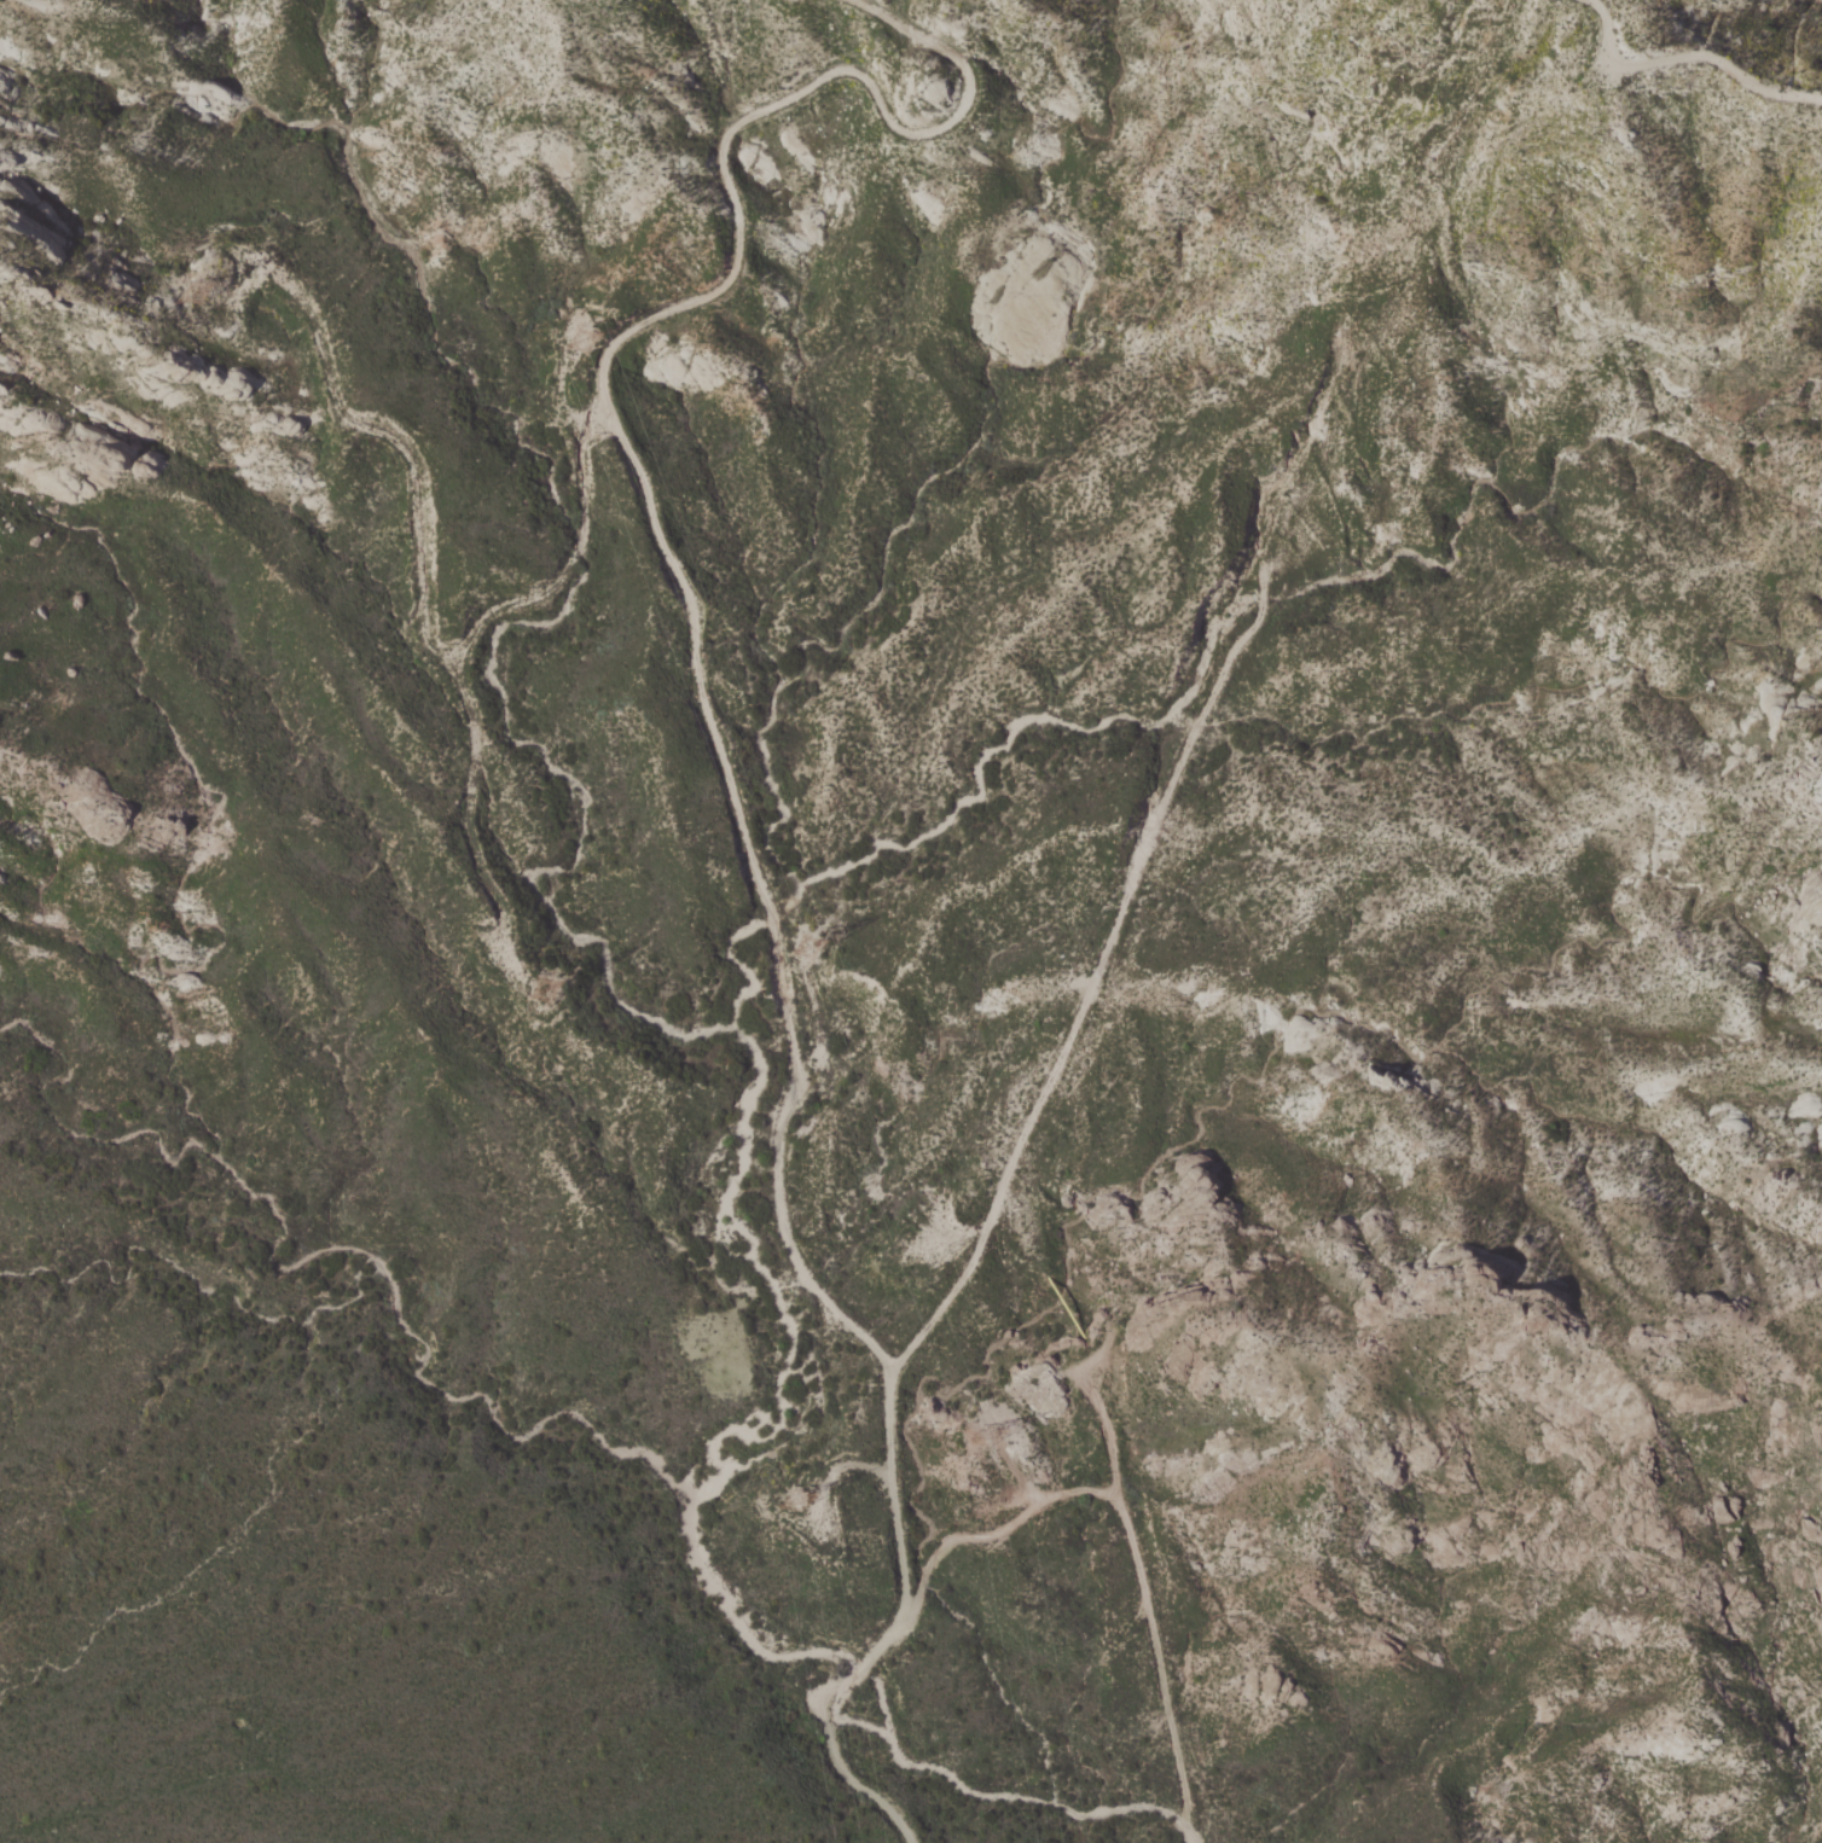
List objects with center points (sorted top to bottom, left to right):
road: (1690, 56)
power tower: (228, 273)
power tower: (592, 321)
road: (564, 377)
road: (398, 438)
road: (460, 658)
road: (721, 750)
power tower: (846, 947)
road: (1091, 978)
power tower: (555, 986)
power tower: (1017, 1438)
road: (840, 1466)
power tower: (803, 1495)
road: (992, 1535)
road: (1153, 1612)

